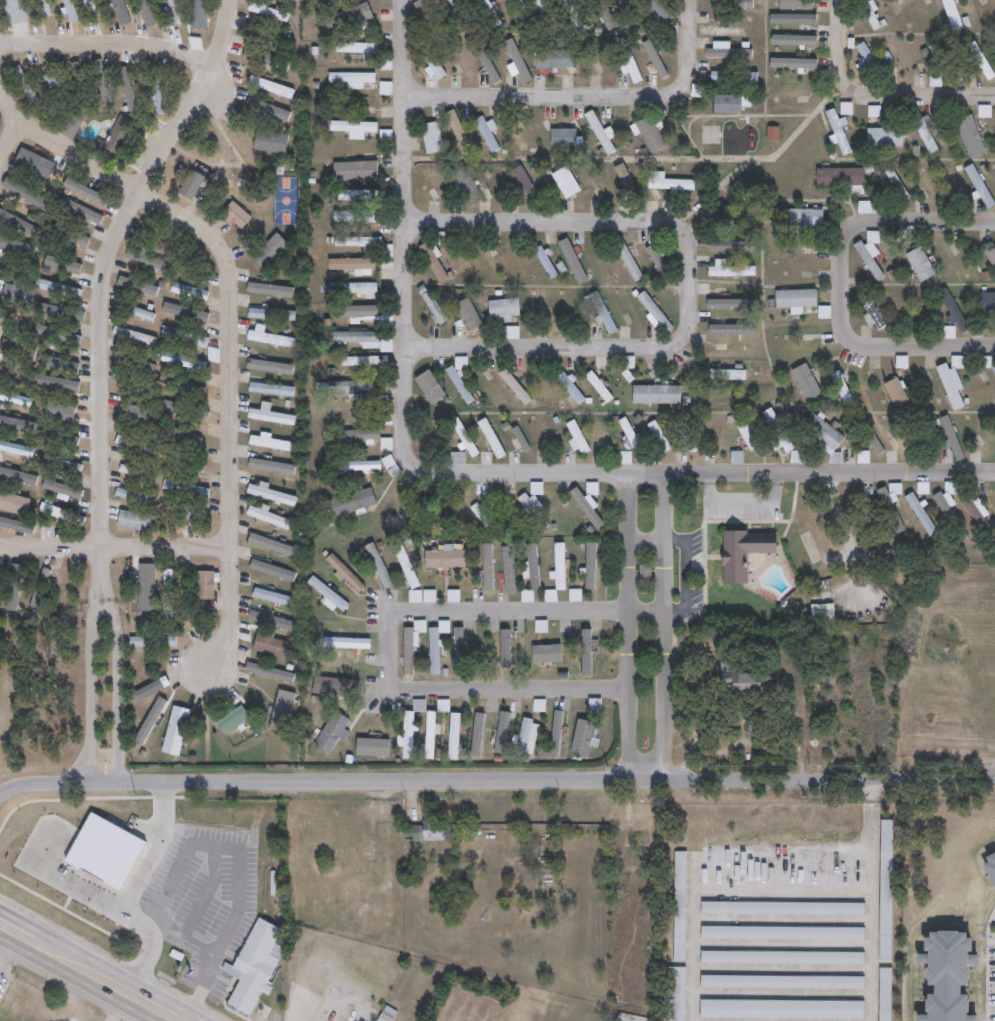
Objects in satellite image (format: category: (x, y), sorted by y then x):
road: (403, 2)
building: (735, 3)
building: (796, 4)
building: (100, 7)
building: (50, 8)
building: (461, 9)
building: (658, 10)
building: (146, 11)
building: (173, 12)
building: (428, 12)
building: (491, 12)
building: (520, 13)
building: (543, 13)
building: (572, 13)
building: (870, 13)
building: (198, 14)
building: (953, 15)
building: (346, 18)
building: (272, 38)
road: (108, 43)
building: (357, 47)
building: (728, 52)
building: (869, 58)
building: (896, 58)
building: (555, 59)
building: (981, 61)
building: (517, 62)
building: (791, 62)
building: (945, 63)
building: (431, 65)
building: (734, 76)
building: (351, 78)
building: (80, 84)
building: (26, 88)
building: (55, 88)
road: (218, 88)
building: (158, 90)
road: (588, 97)
road: (876, 97)
building: (728, 103)
building: (875, 110)
building: (358, 125)
building: (71, 127)
building: (601, 131)
building: (838, 131)
building: (923, 131)
building: (458, 132)
building: (773, 132)
building: (968, 132)
building: (486, 133)
building: (651, 133)
building: (269, 136)
building: (516, 136)
building: (564, 136)
building: (431, 137)
building: (885, 137)
building: (119, 138)
road: (12, 141)
building: (41, 171)
building: (840, 177)
building: (521, 181)
building: (566, 181)
building: (464, 182)
building: (434, 183)
building: (670, 183)
building: (897, 183)
building: (191, 184)
building: (924, 185)
building: (980, 185)
building: (955, 187)
building: (360, 194)
building: (864, 206)
building: (84, 210)
building: (357, 216)
building: (738, 217)
building: (804, 218)
road: (883, 220)
road: (589, 222)
road: (402, 223)
building: (70, 234)
building: (158, 234)
building: (366, 245)
building: (732, 246)
building: (23, 249)
building: (270, 250)
road: (223, 253)
building: (870, 253)
building: (991, 257)
building: (627, 259)
building: (658, 259)
building: (432, 260)
building: (490, 260)
building: (573, 260)
building: (546, 261)
building: (351, 264)
building: (921, 264)
building: (730, 270)
road: (103, 285)
building: (138, 285)
building: (56, 288)
building: (360, 289)
building: (13, 294)
building: (795, 300)
building: (432, 304)
building: (985, 304)
building: (897, 307)
building: (504, 309)
building: (545, 310)
building: (954, 310)
building: (184, 311)
building: (355, 311)
building: (134, 312)
building: (602, 312)
building: (871, 313)
building: (271, 314)
building: (468, 314)
building: (513, 332)
building: (62, 335)
building: (139, 336)
building: (183, 337)
building: (270, 339)
building: (363, 340)
building: (17, 349)
road: (557, 349)
road: (904, 349)
building: (734, 353)
building: (214, 354)
building: (363, 362)
building: (137, 364)
building: (994, 369)
building: (722, 375)
building: (459, 385)
building: (542, 385)
building: (802, 385)
building: (951, 385)
building: (353, 386)
building: (514, 386)
building: (599, 386)
building: (571, 388)
building: (842, 388)
building: (270, 389)
building: (135, 391)
building: (894, 392)
building: (656, 395)
building: (358, 408)
building: (58, 411)
building: (132, 414)
building: (270, 416)
building: (777, 432)
building: (746, 433)
building: (823, 434)
building: (361, 435)
building: (629, 435)
building: (603, 436)
building: (658, 436)
building: (692, 436)
building: (465, 438)
building: (577, 438)
building: (871, 438)
building: (268, 442)
building: (515, 442)
building: (134, 446)
building: (737, 457)
building: (459, 458)
building: (795, 458)
building: (184, 462)
building: (61, 464)
building: (356, 465)
building: (270, 468)
road: (687, 475)
building: (185, 489)
building: (417, 489)
building: (270, 494)
building: (134, 497)
building: (533, 497)
building: (350, 503)
building: (423, 504)
building: (11, 506)
building: (532, 511)
building: (891, 511)
building: (976, 511)
building: (423, 512)
building: (183, 513)
building: (481, 514)
building: (921, 514)
building: (61, 515)
building: (268, 517)
building: (861, 519)
building: (135, 522)
road: (646, 539)
building: (273, 544)
road: (114, 545)
building: (744, 553)
building: (445, 559)
building: (379, 566)
building: (407, 566)
building: (589, 566)
building: (645, 571)
building: (557, 574)
building: (530, 575)
building: (210, 585)
building: (41, 589)
building: (166, 595)
building: (327, 595)
building: (271, 598)
road: (230, 610)
building: (823, 614)
road: (628, 628)
road: (663, 628)
road: (388, 631)
building: (341, 635)
building: (151, 642)
building: (436, 645)
building: (268, 647)
building: (411, 647)
building: (506, 649)
building: (458, 652)
building: (586, 652)
building: (741, 684)
building: (332, 686)
road: (117, 690)
road: (92, 691)
building: (233, 720)
building: (332, 731)
building: (586, 731)
building: (429, 734)
building: (525, 734)
building: (407, 735)
building: (453, 735)
road: (496, 781)
road: (173, 796)
building: (636, 832)
building: (424, 833)
building: (104, 851)
road: (157, 863)
building: (989, 863)
building: (884, 887)
road: (94, 892)
road: (772, 892)
building: (681, 905)
building: (783, 907)
road: (8, 930)
building: (782, 932)
road: (23, 939)
building: (783, 956)
building: (253, 966)
building: (938, 975)
road: (143, 978)
building: (782, 981)
road: (100, 982)
building: (675, 993)
building: (883, 993)
building: (782, 1009)
building: (388, 1014)

